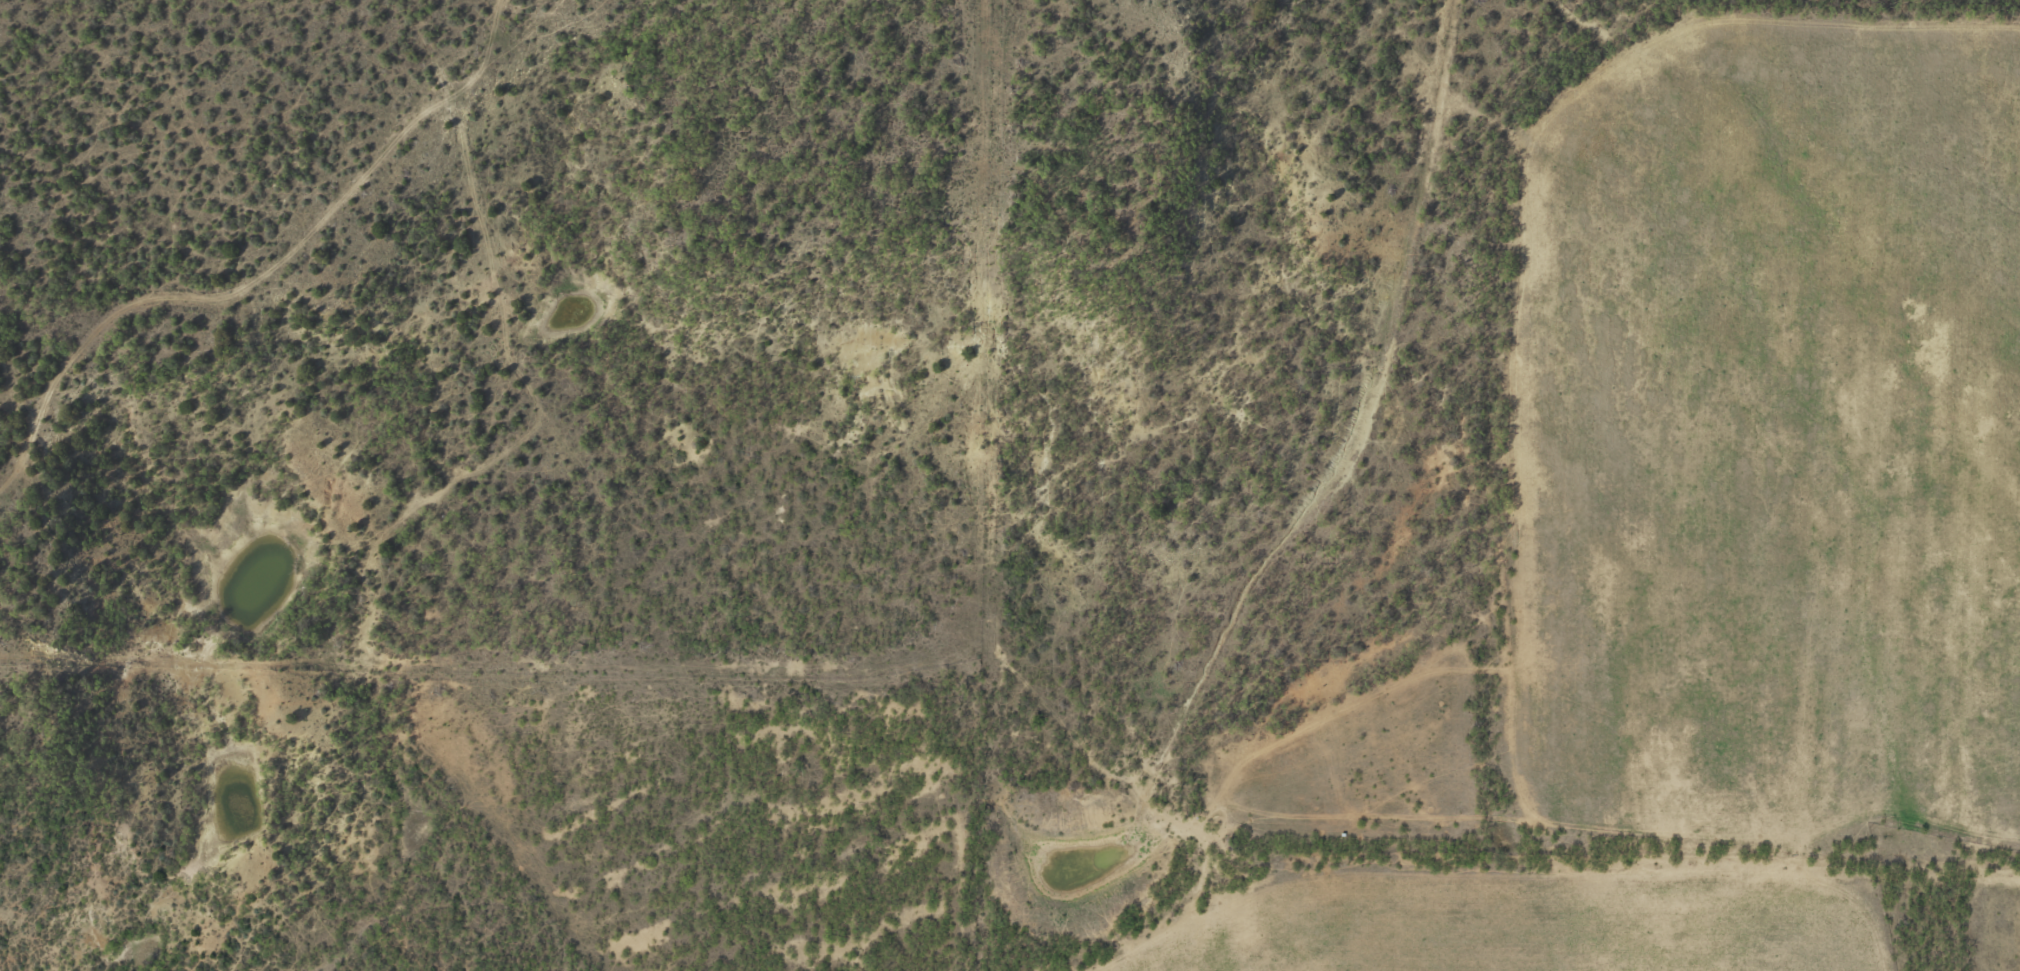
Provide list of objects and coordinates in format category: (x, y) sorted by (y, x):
road: (263, 260)

